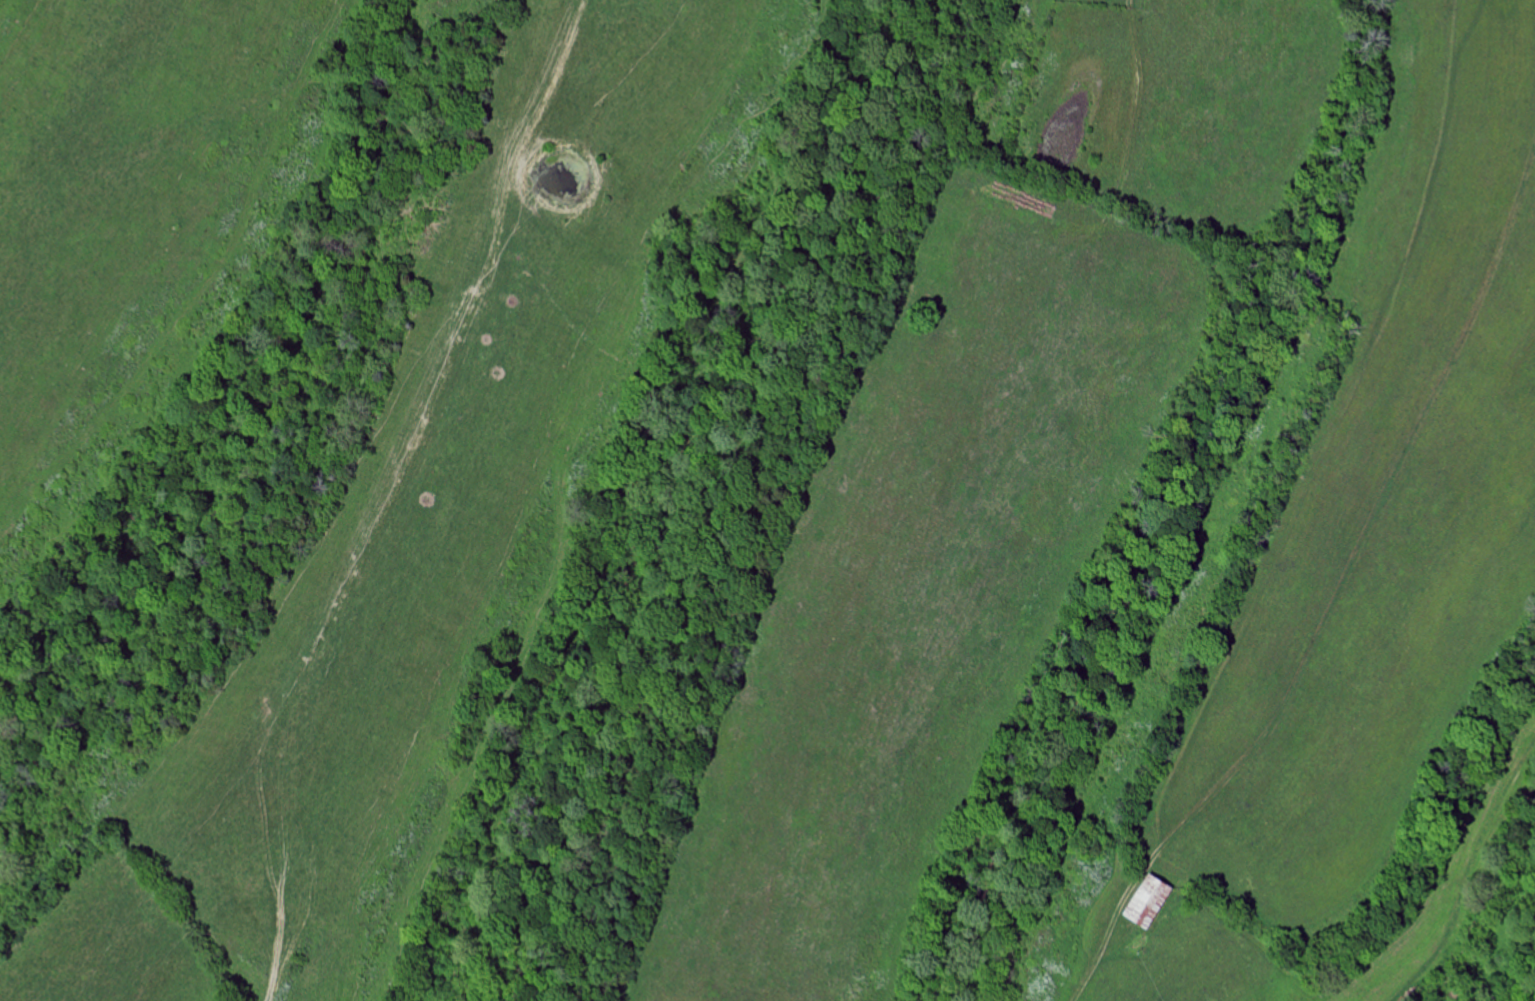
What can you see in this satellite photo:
building: (1152, 902)

